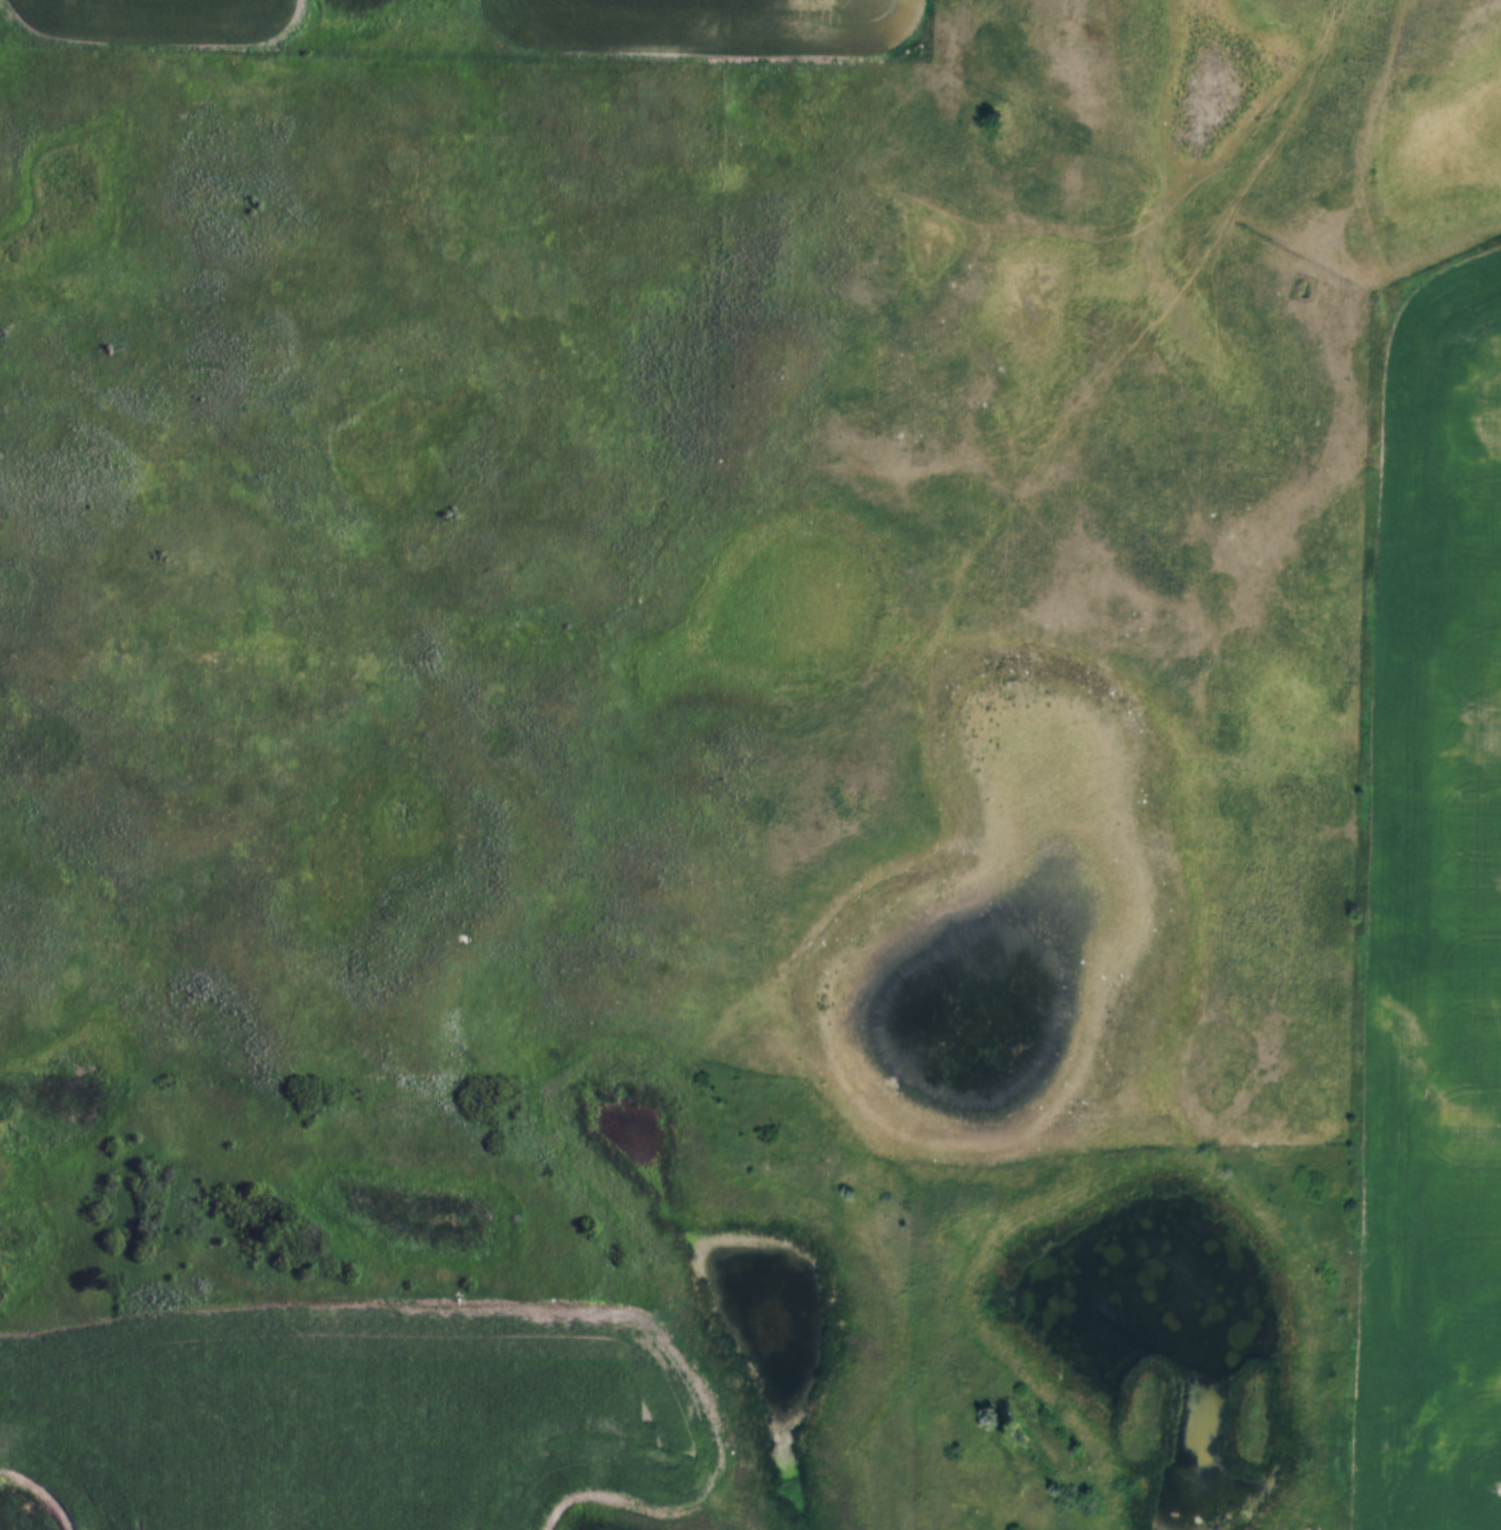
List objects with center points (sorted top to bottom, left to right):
road: (1447, 271)
road: (1375, 759)

